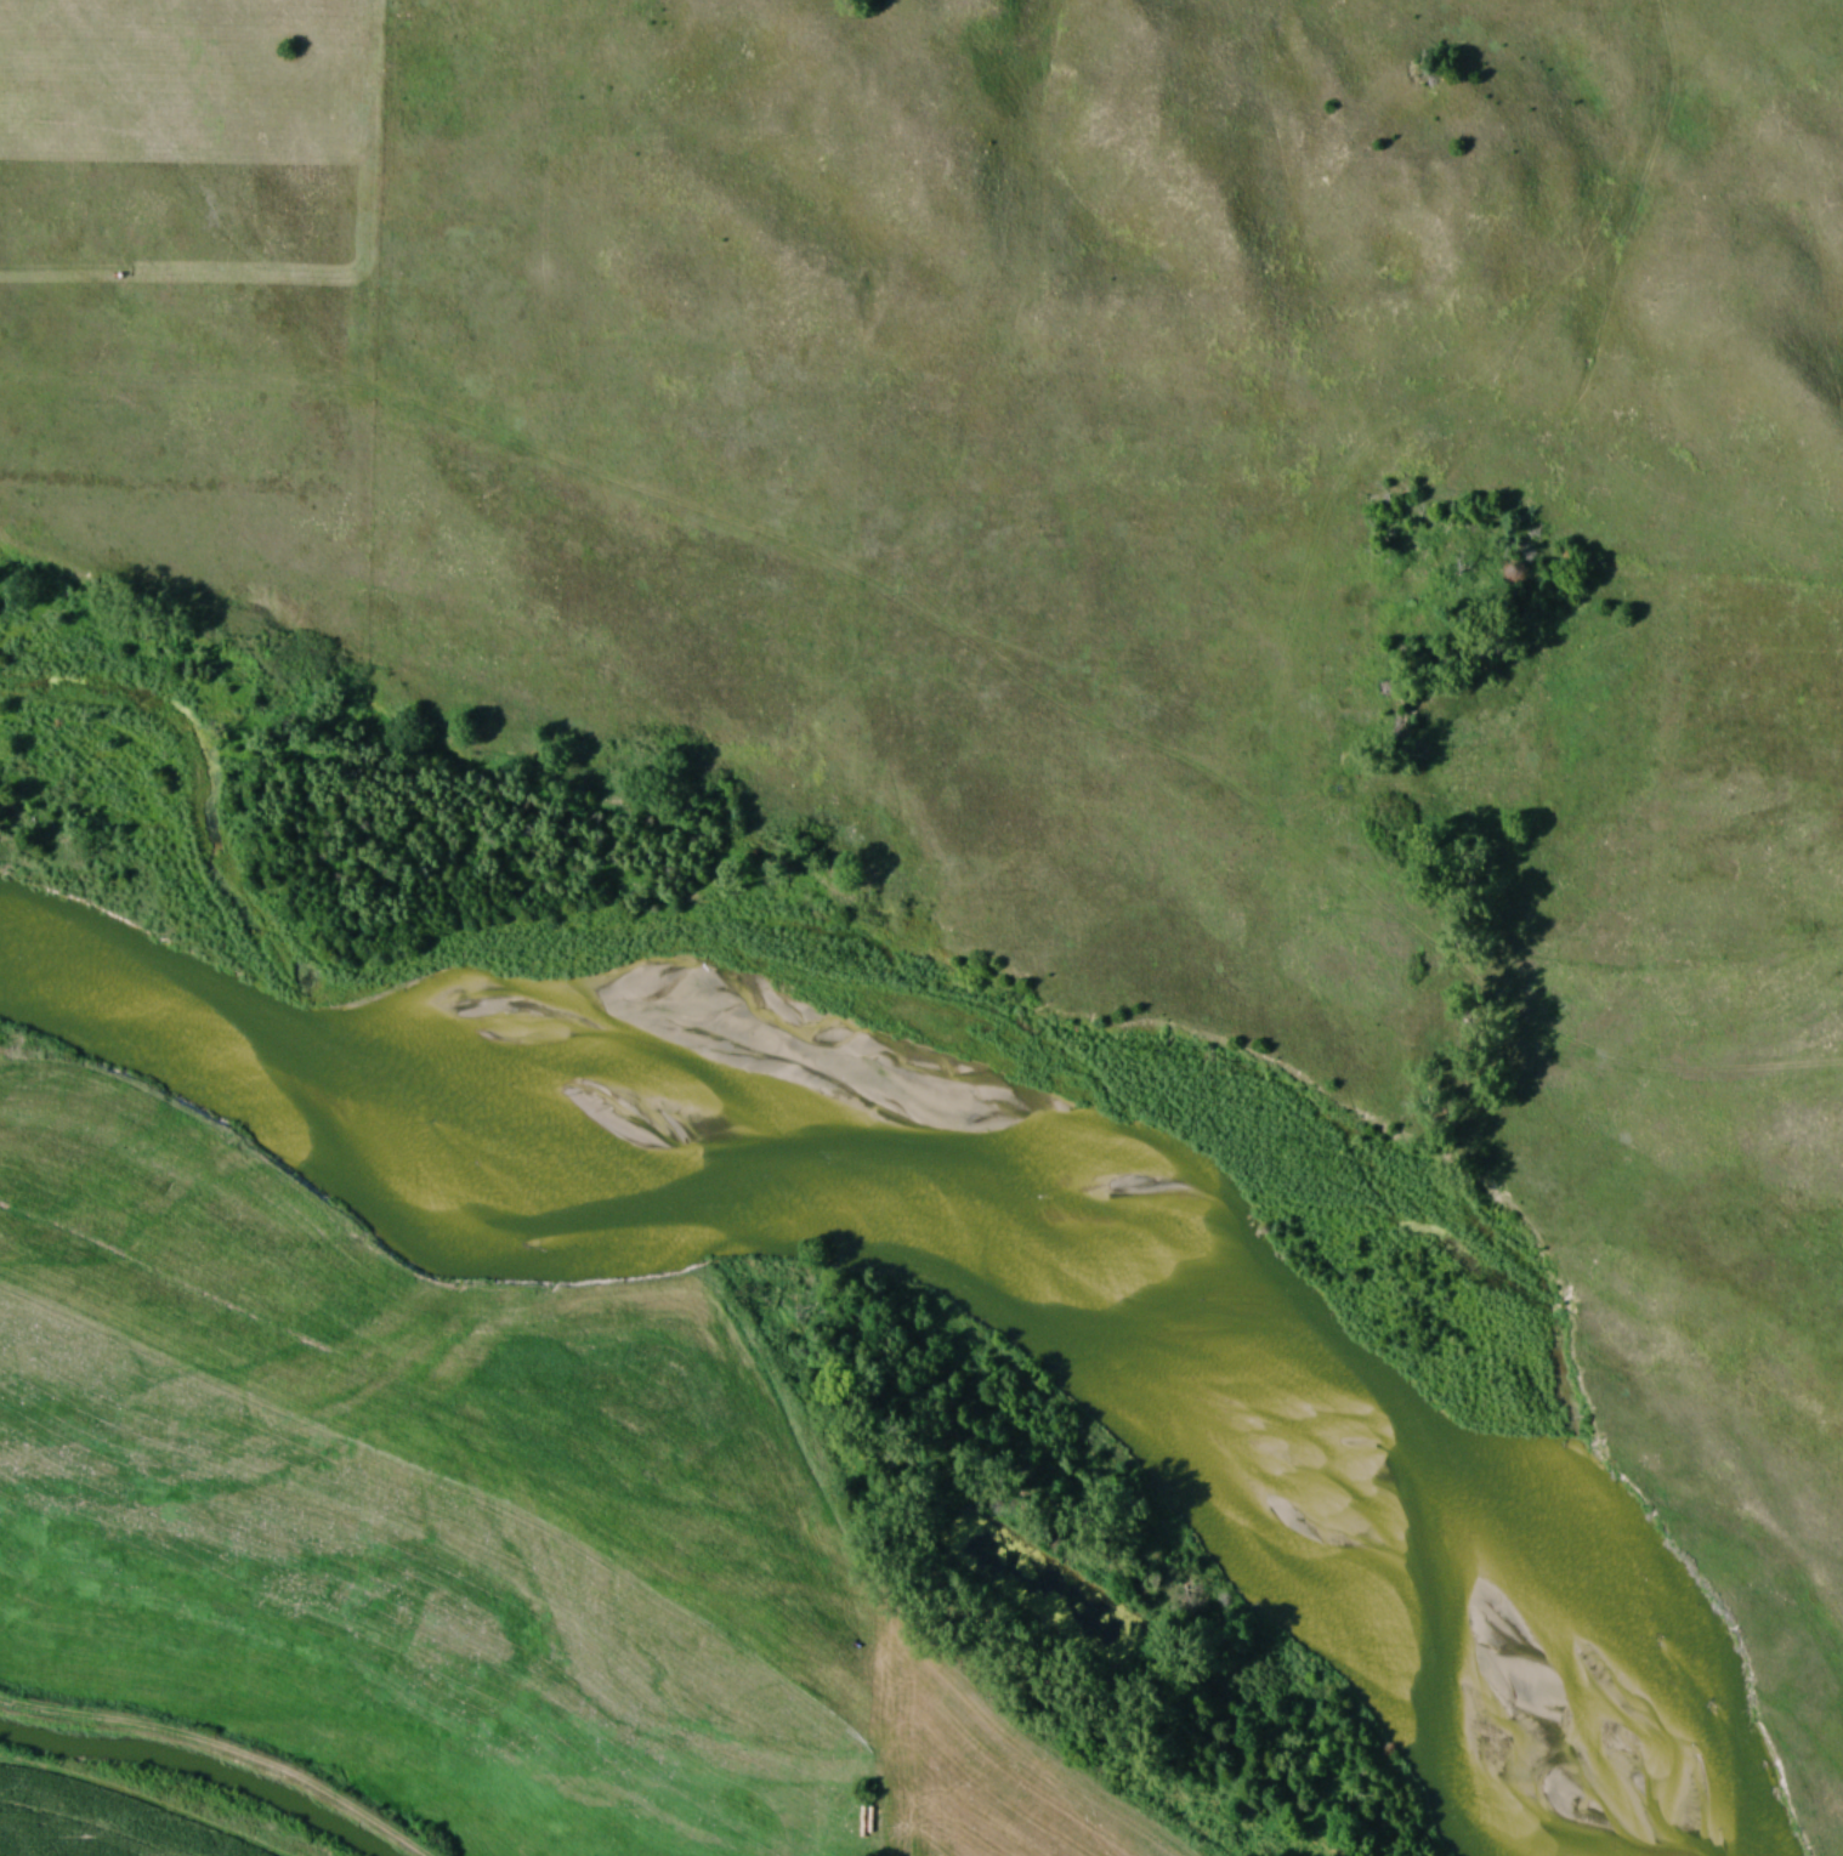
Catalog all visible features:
river: (943, 1215)

